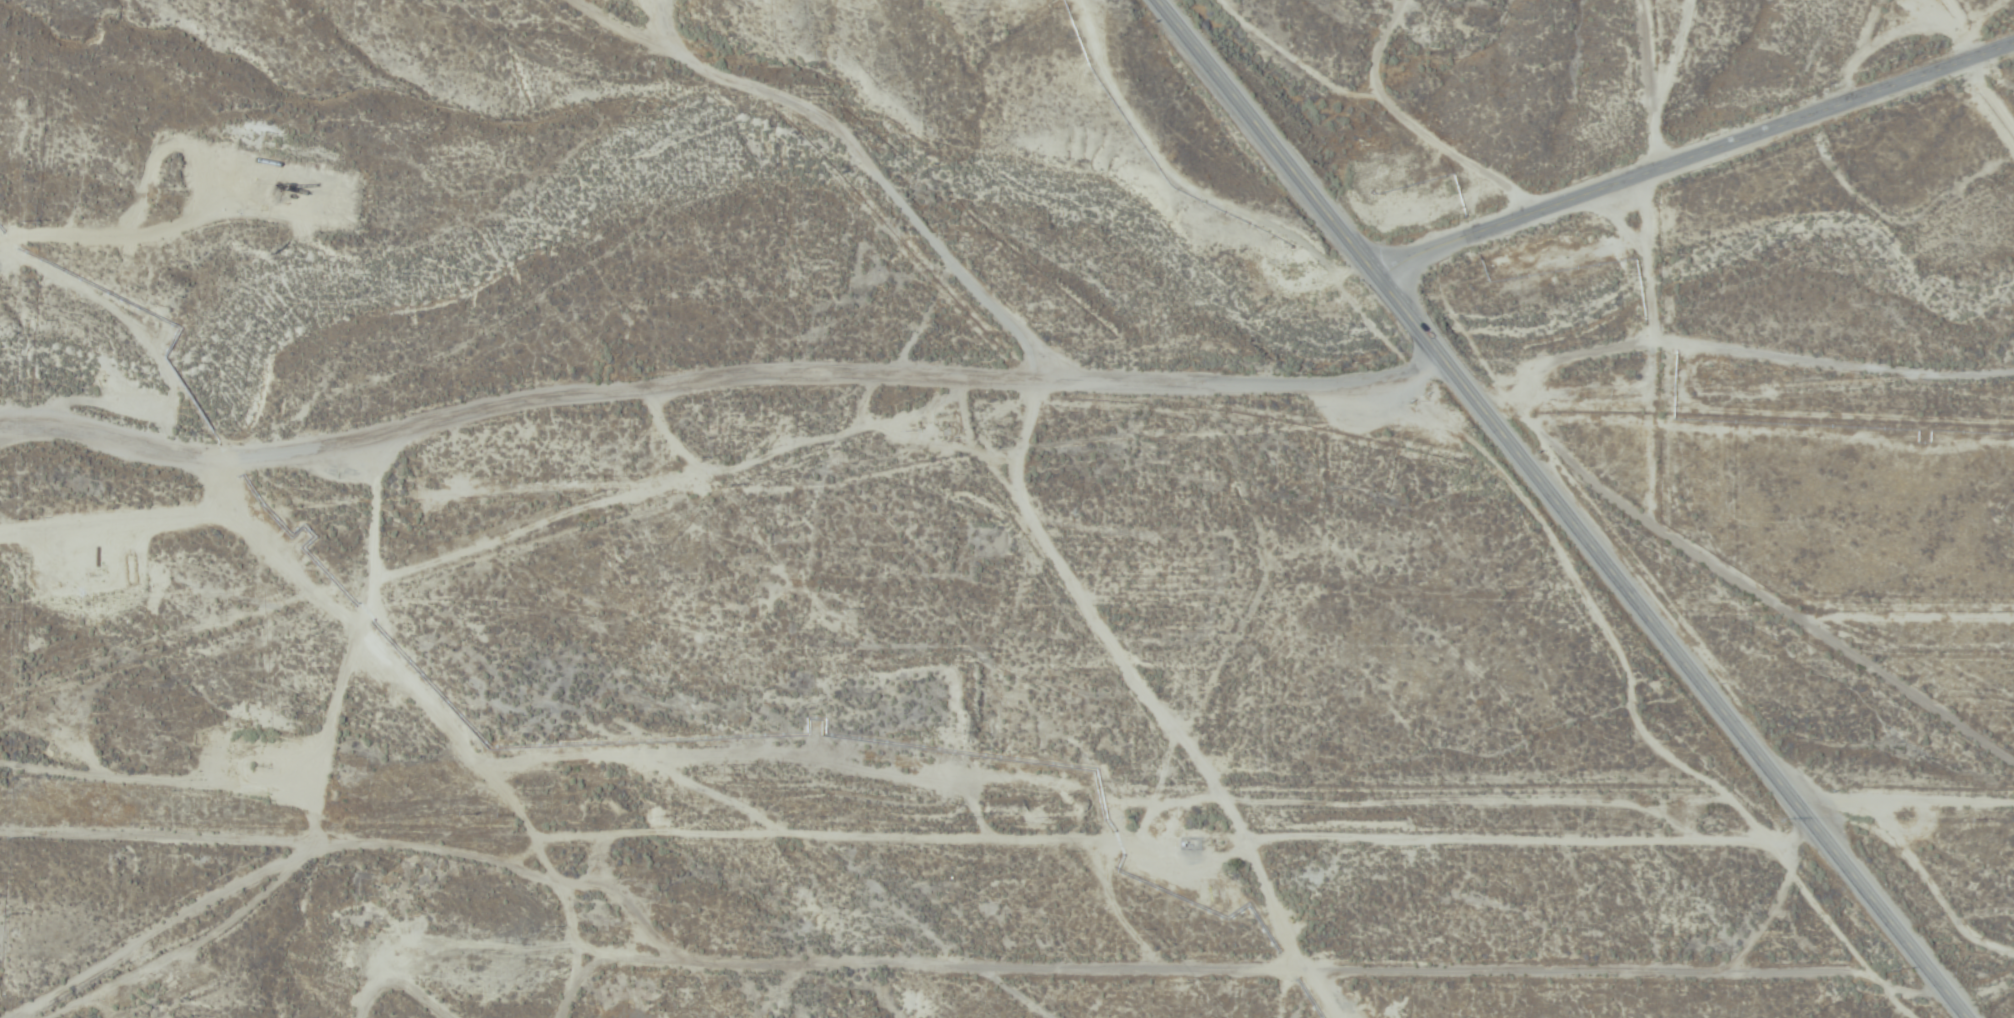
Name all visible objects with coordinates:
road: (1655, 83)
road: (1694, 156)
road: (728, 378)
road: (1566, 508)
road: (910, 962)

